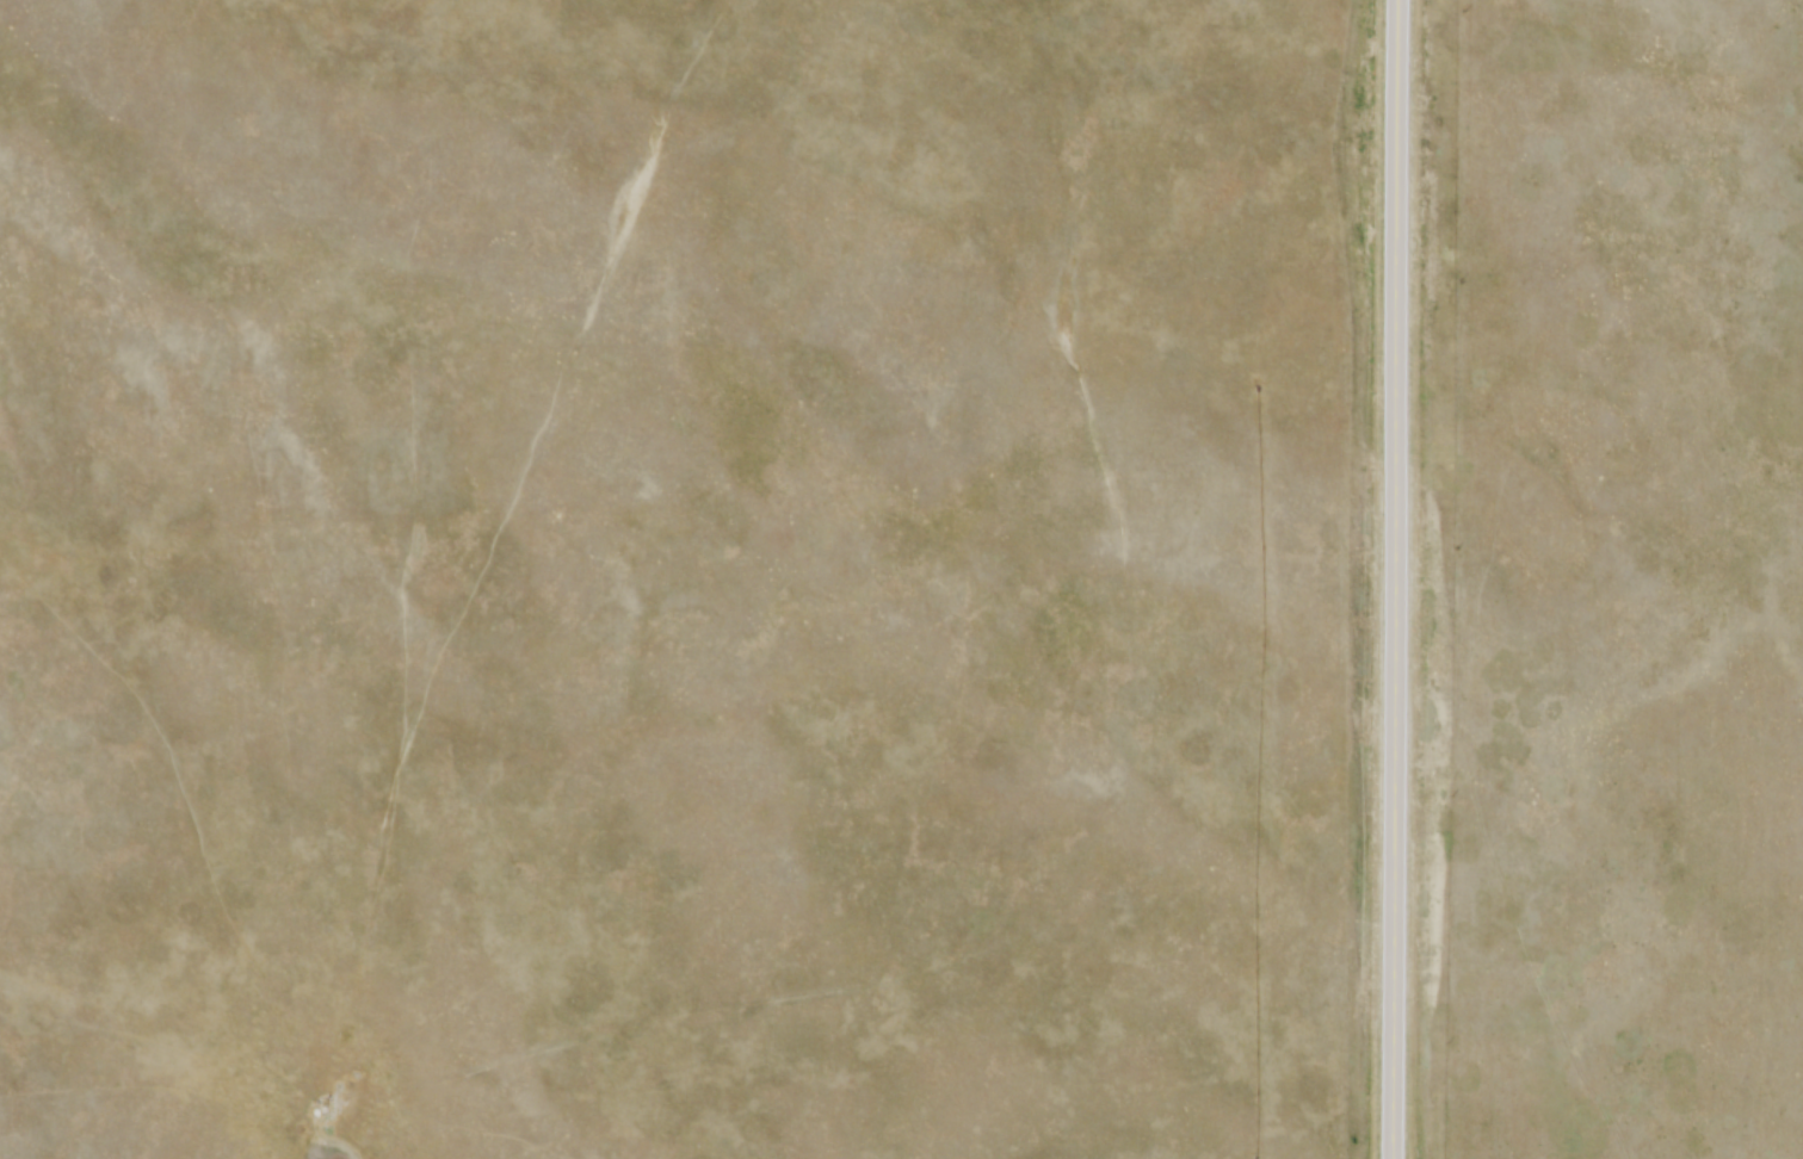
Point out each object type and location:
road: (1390, 579)

